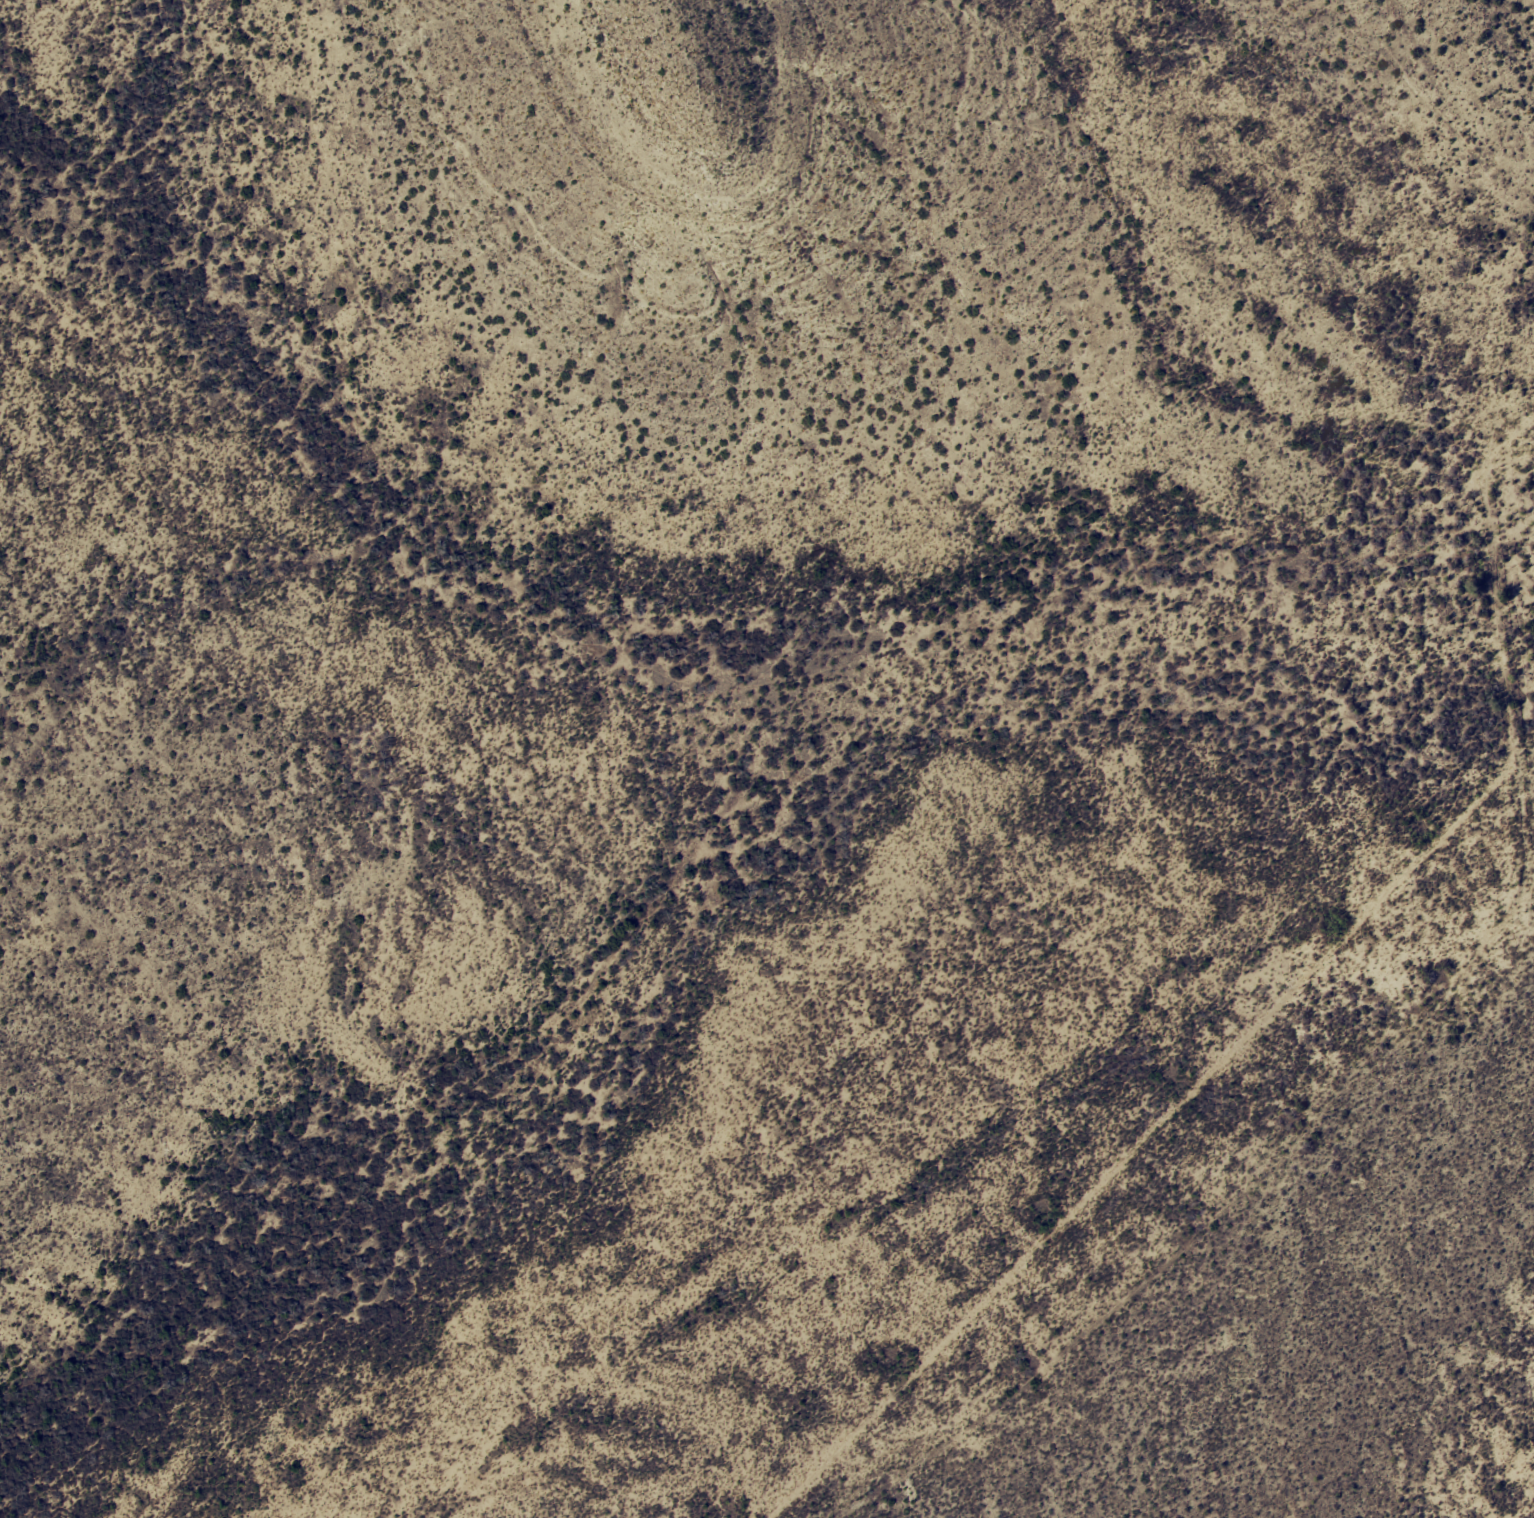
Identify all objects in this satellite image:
road: (1484, 574)
road: (1216, 1232)

